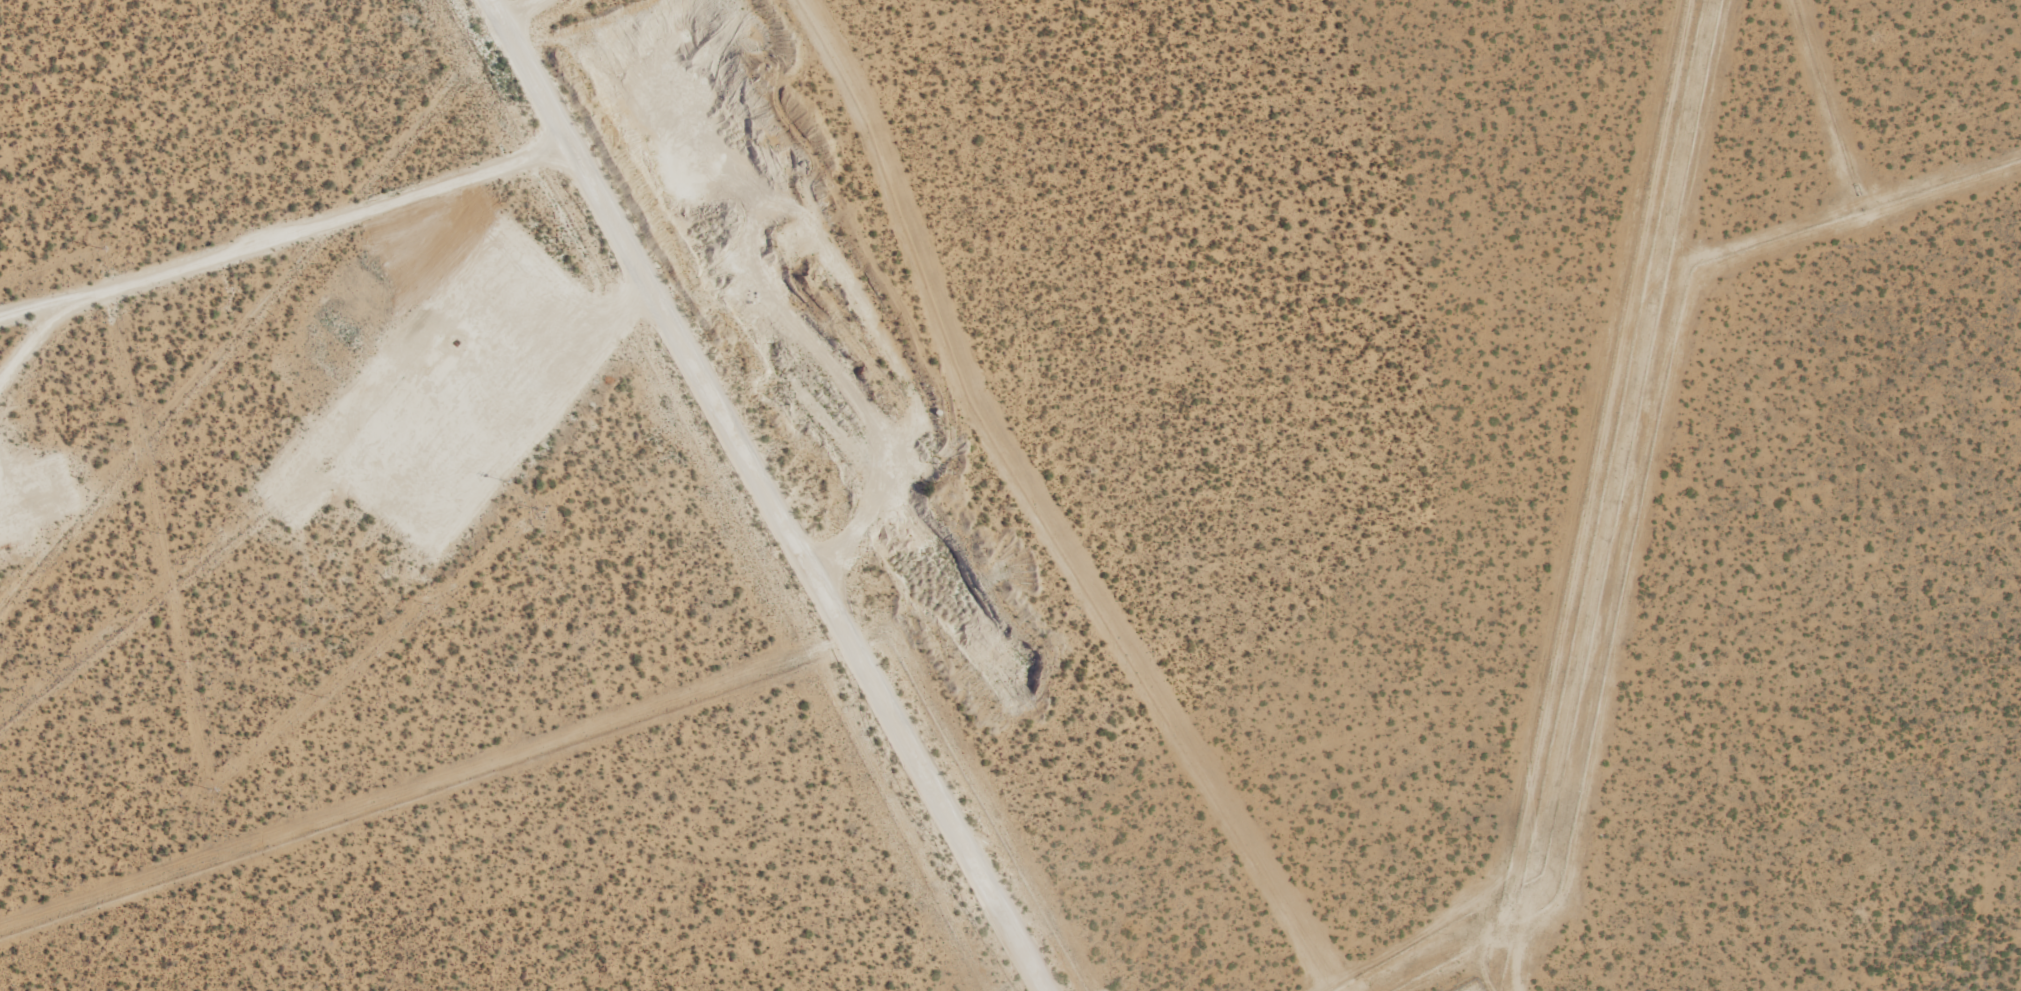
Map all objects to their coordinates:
road: (514, 15)
road: (277, 235)
road: (622, 307)
road: (32, 334)
road: (711, 431)
road: (997, 928)

